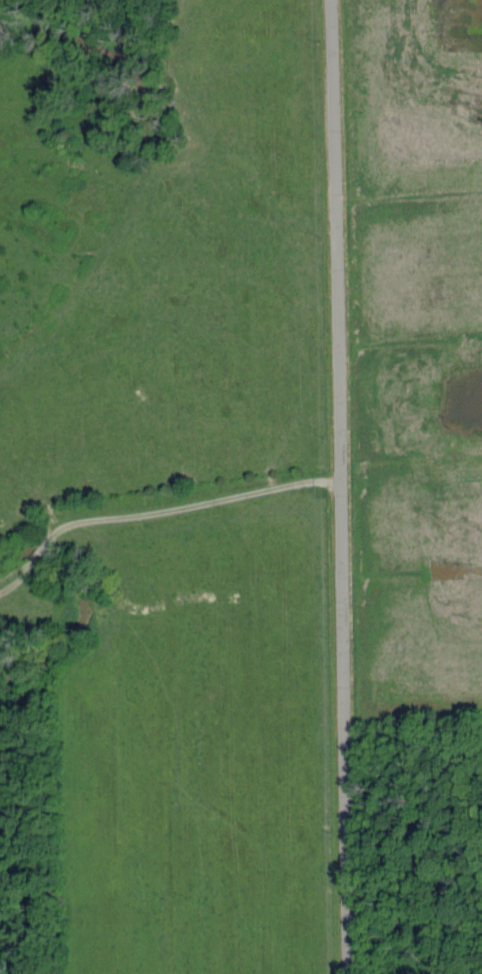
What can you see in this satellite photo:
road: (342, 487)
road: (155, 513)

